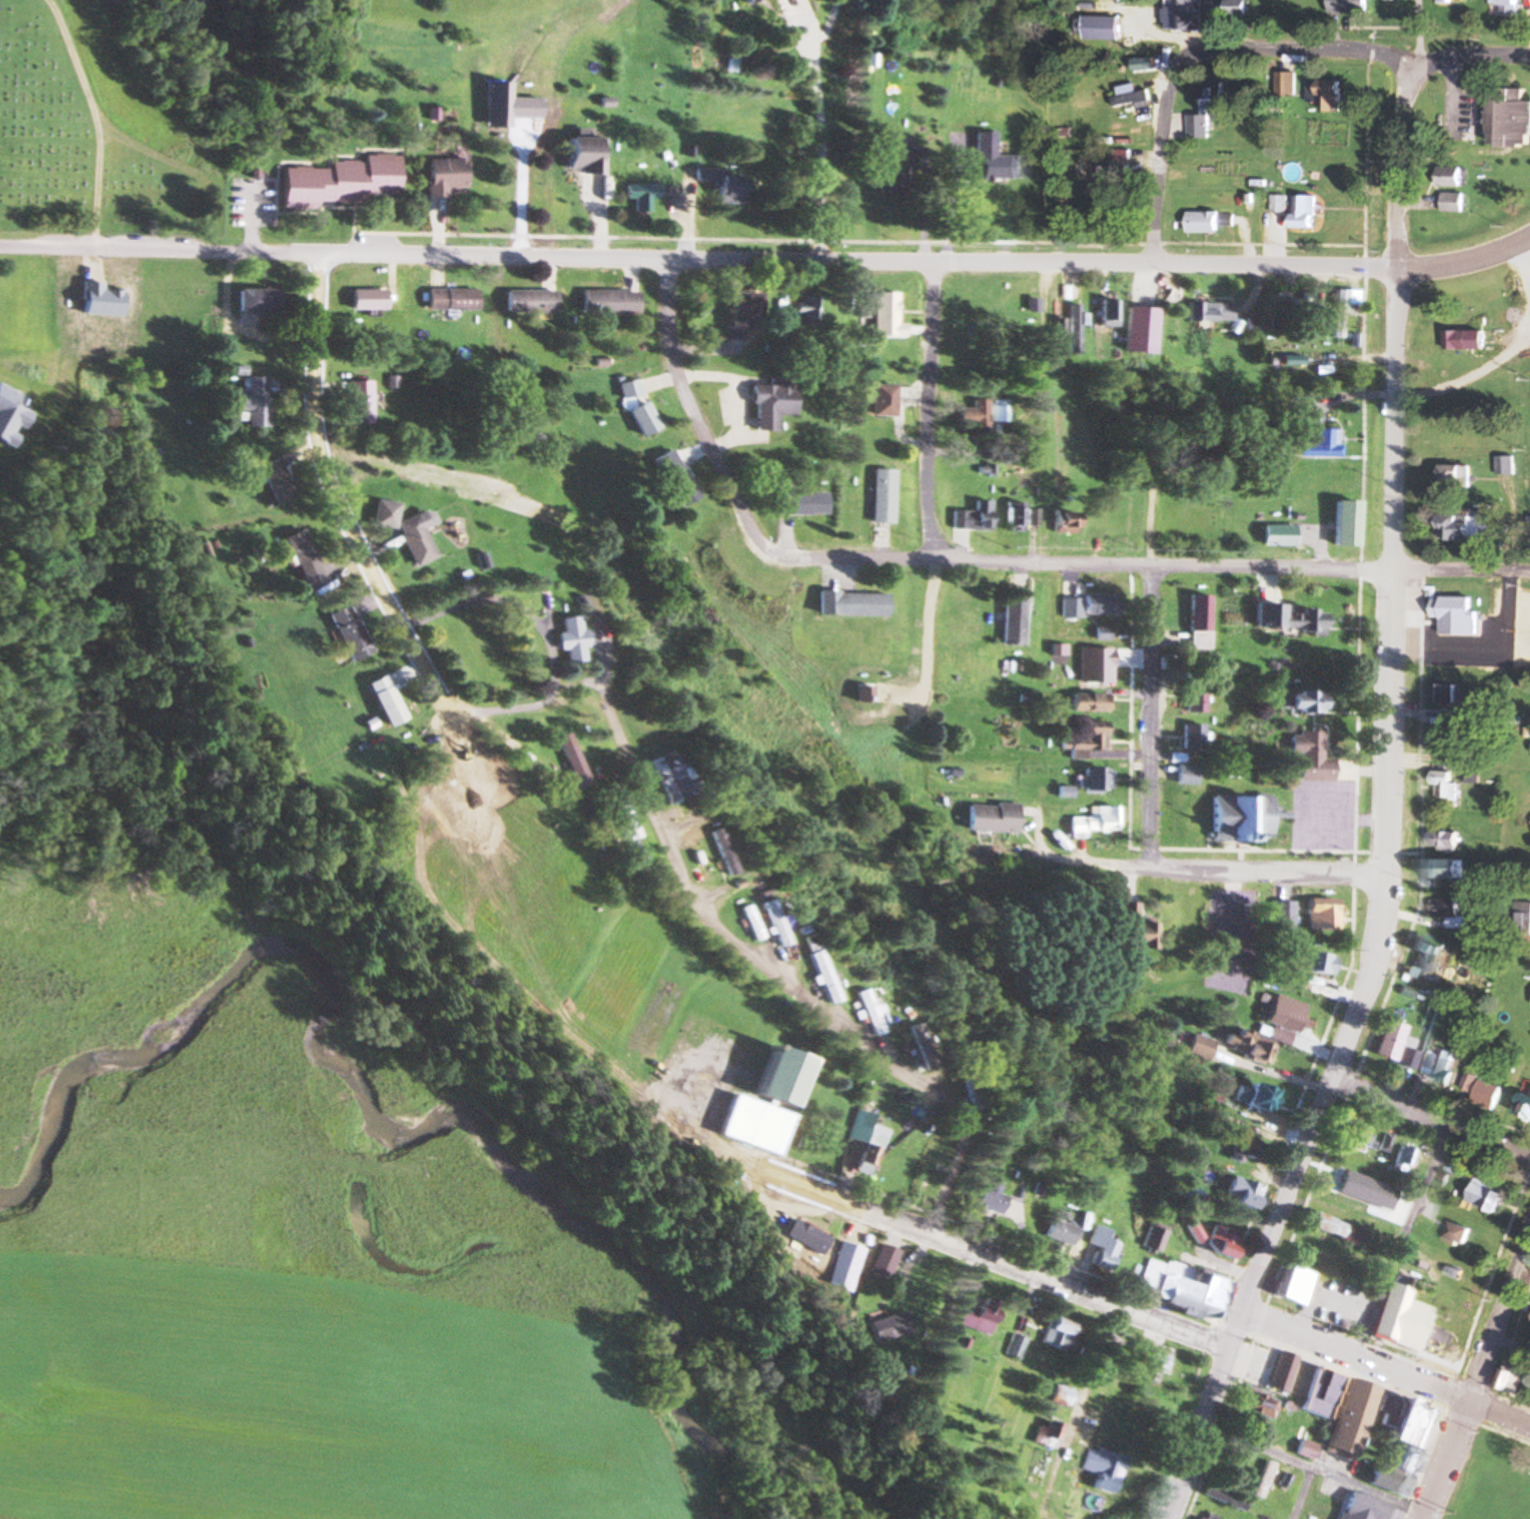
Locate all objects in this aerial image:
building: (741, 1)
building: (1455, 1)
building: (1507, 2)
building: (1350, 6)
building: (1237, 10)
building: (1213, 11)
building: (1181, 14)
road: (1339, 48)
building: (1143, 63)
building: (1286, 83)
building: (1326, 94)
building: (1130, 95)
building: (1208, 108)
building: (1511, 117)
road: (820, 144)
park: (83, 146)
building: (582, 154)
building: (891, 165)
building: (442, 175)
building: (1452, 176)
building: (339, 182)
building: (1103, 182)
road: (1161, 182)
building: (721, 184)
building: (638, 194)
building: (1453, 202)
building: (1279, 203)
building: (965, 210)
building: (1305, 211)
building: (1210, 220)
road: (766, 261)
building: (452, 298)
building: (364, 299)
building: (255, 300)
building: (527, 301)
building: (607, 301)
building: (1343, 303)
building: (1028, 305)
building: (738, 307)
building: (809, 311)
building: (1206, 311)
building: (1305, 312)
building: (1272, 313)
building: (1105, 314)
building: (885, 315)
building: (776, 320)
building: (1252, 324)
building: (1070, 329)
building: (1463, 343)
building: (1295, 360)
building: (629, 388)
building: (250, 401)
building: (769, 401)
building: (886, 401)
building: (357, 403)
building: (971, 414)
road: (928, 415)
building: (996, 415)
building: (642, 418)
building: (1321, 444)
building: (1506, 465)
building: (1456, 475)
building: (273, 481)
building: (676, 481)
building: (878, 496)
road: (339, 502)
building: (798, 503)
building: (1009, 516)
building: (1027, 517)
building: (968, 518)
building: (1060, 521)
building: (1342, 523)
building: (1464, 526)
building: (403, 532)
building: (1277, 535)
building: (302, 559)
road: (987, 568)
building: (1068, 600)
building: (849, 603)
building: (1098, 604)
building: (1453, 607)
building: (1287, 618)
building: (1009, 620)
building: (1197, 622)
building: (348, 632)
building: (566, 639)
building: (1094, 667)
building: (1445, 693)
building: (1193, 698)
building: (384, 700)
building: (1297, 701)
building: (1085, 702)
road: (1151, 719)
building: (1190, 737)
building: (1081, 741)
building: (1441, 741)
building: (1307, 757)
building: (567, 760)
building: (1182, 775)
building: (1473, 775)
building: (1090, 780)
building: (657, 782)
building: (1445, 785)
road: (1386, 811)
building: (618, 812)
road: (584, 818)
building: (989, 818)
building: (1238, 818)
building: (1092, 822)
building: (1444, 840)
building: (718, 855)
building: (691, 859)
road: (1209, 869)
building: (1444, 869)
building: (1449, 912)
building: (1319, 914)
building: (1279, 917)
building: (1524, 919)
building: (747, 923)
building: (770, 924)
building: (1124, 928)
road: (727, 938)
building: (1424, 955)
building: (1314, 963)
building: (818, 977)
building: (862, 1013)
building: (1288, 1016)
building: (1247, 1046)
building: (911, 1047)
building: (1197, 1047)
building: (1388, 1047)
building: (1442, 1068)
building: (1485, 1092)
building: (1254, 1098)
building: (1206, 1099)
building: (759, 1104)
building: (1525, 1107)
road: (1431, 1122)
building: (667, 1128)
building: (1354, 1136)
building: (858, 1141)
building: (1240, 1150)
building: (1398, 1159)
building: (924, 1169)
building: (1333, 1188)
building: (1241, 1193)
building: (1191, 1194)
building: (1489, 1196)
building: (985, 1200)
building: (1330, 1229)
building: (1194, 1230)
building: (1057, 1234)
building: (1459, 1235)
building: (1152, 1240)
building: (1223, 1244)
road: (1398, 1244)
building: (1100, 1249)
road: (990, 1257)
building: (879, 1261)
building: (1294, 1286)
building: (1180, 1288)
building: (1390, 1311)
building: (970, 1317)
building: (883, 1327)
building: (1055, 1335)
building: (1444, 1340)
road: (1356, 1362)
building: (891, 1366)
building: (1144, 1367)
building: (1513, 1381)
building: (1302, 1385)
road: (1479, 1385)
road: (1094, 1389)
building: (1058, 1397)
building: (1255, 1403)
road: (1501, 1415)
building: (1351, 1420)
building: (1042, 1435)
road: (1323, 1440)
building: (1402, 1443)
building: (1304, 1450)
road: (1315, 1469)
building: (1098, 1470)
building: (1234, 1470)
park: (1492, 1477)
building: (1221, 1499)
building: (1367, 1509)

